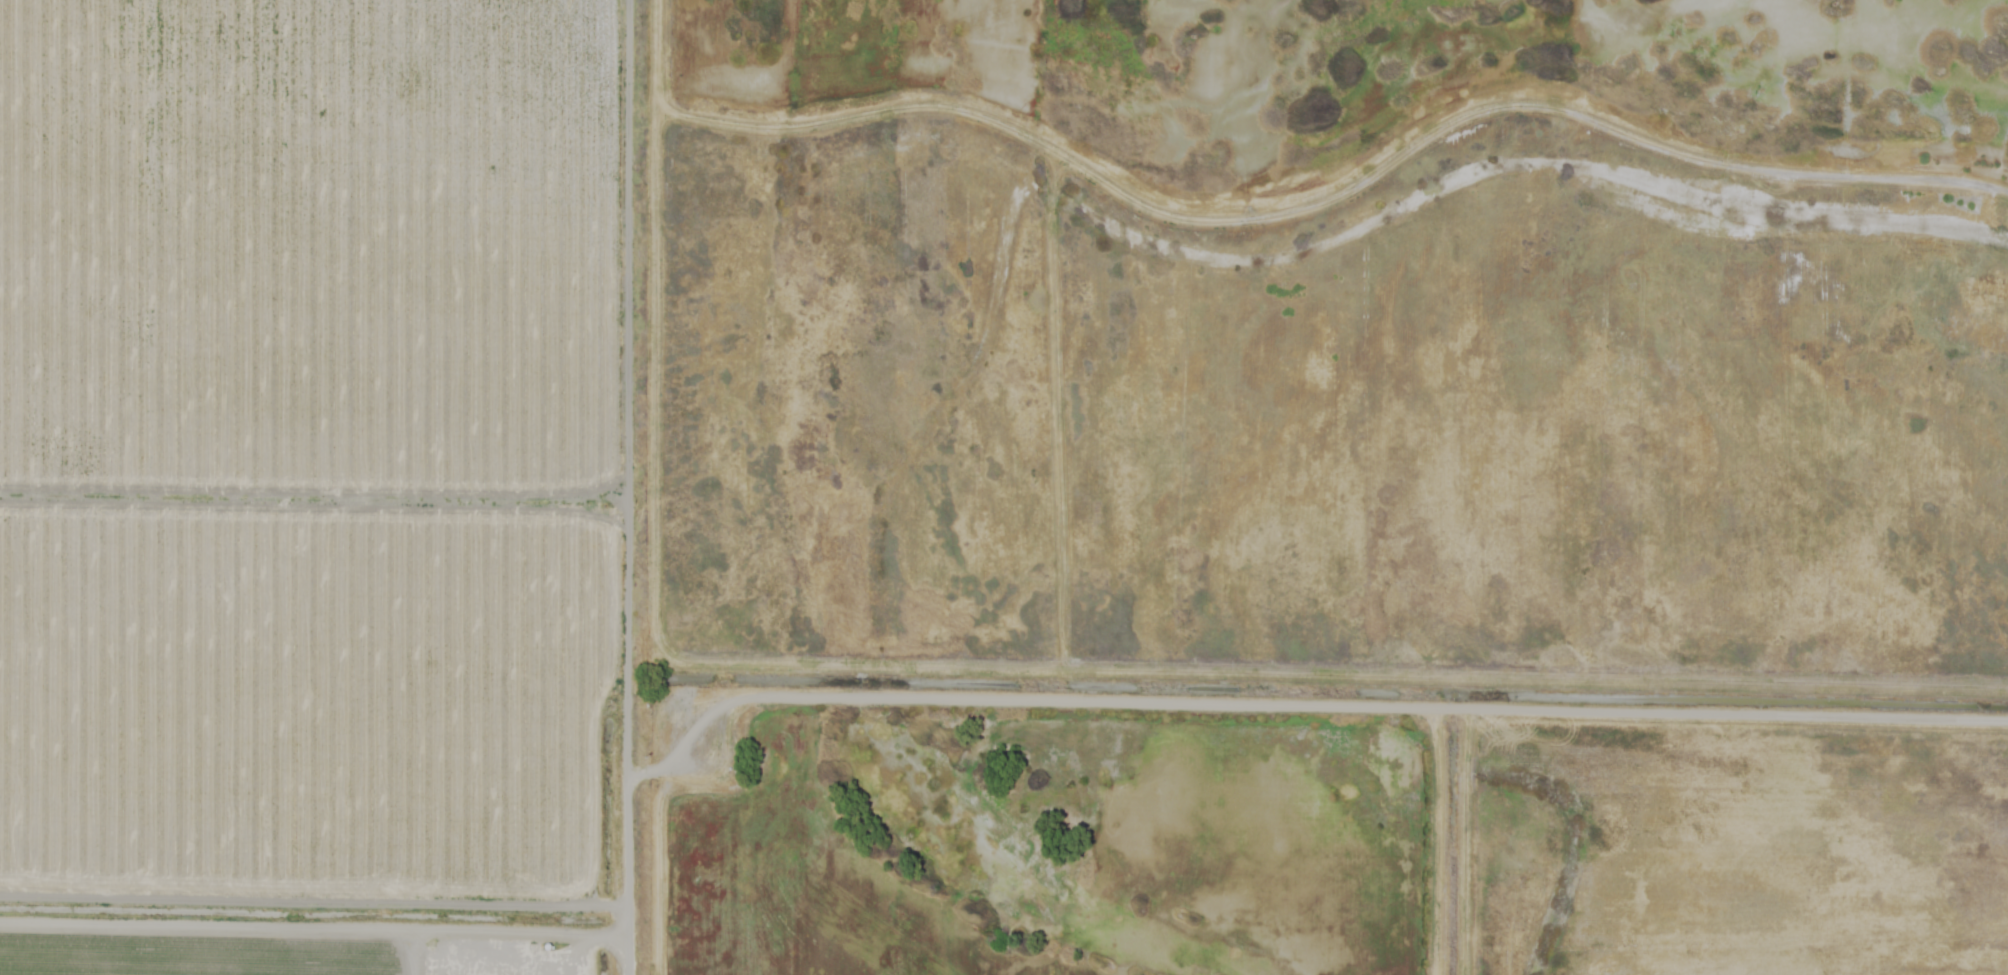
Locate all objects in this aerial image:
road: (628, 487)
crop: (317, 488)

